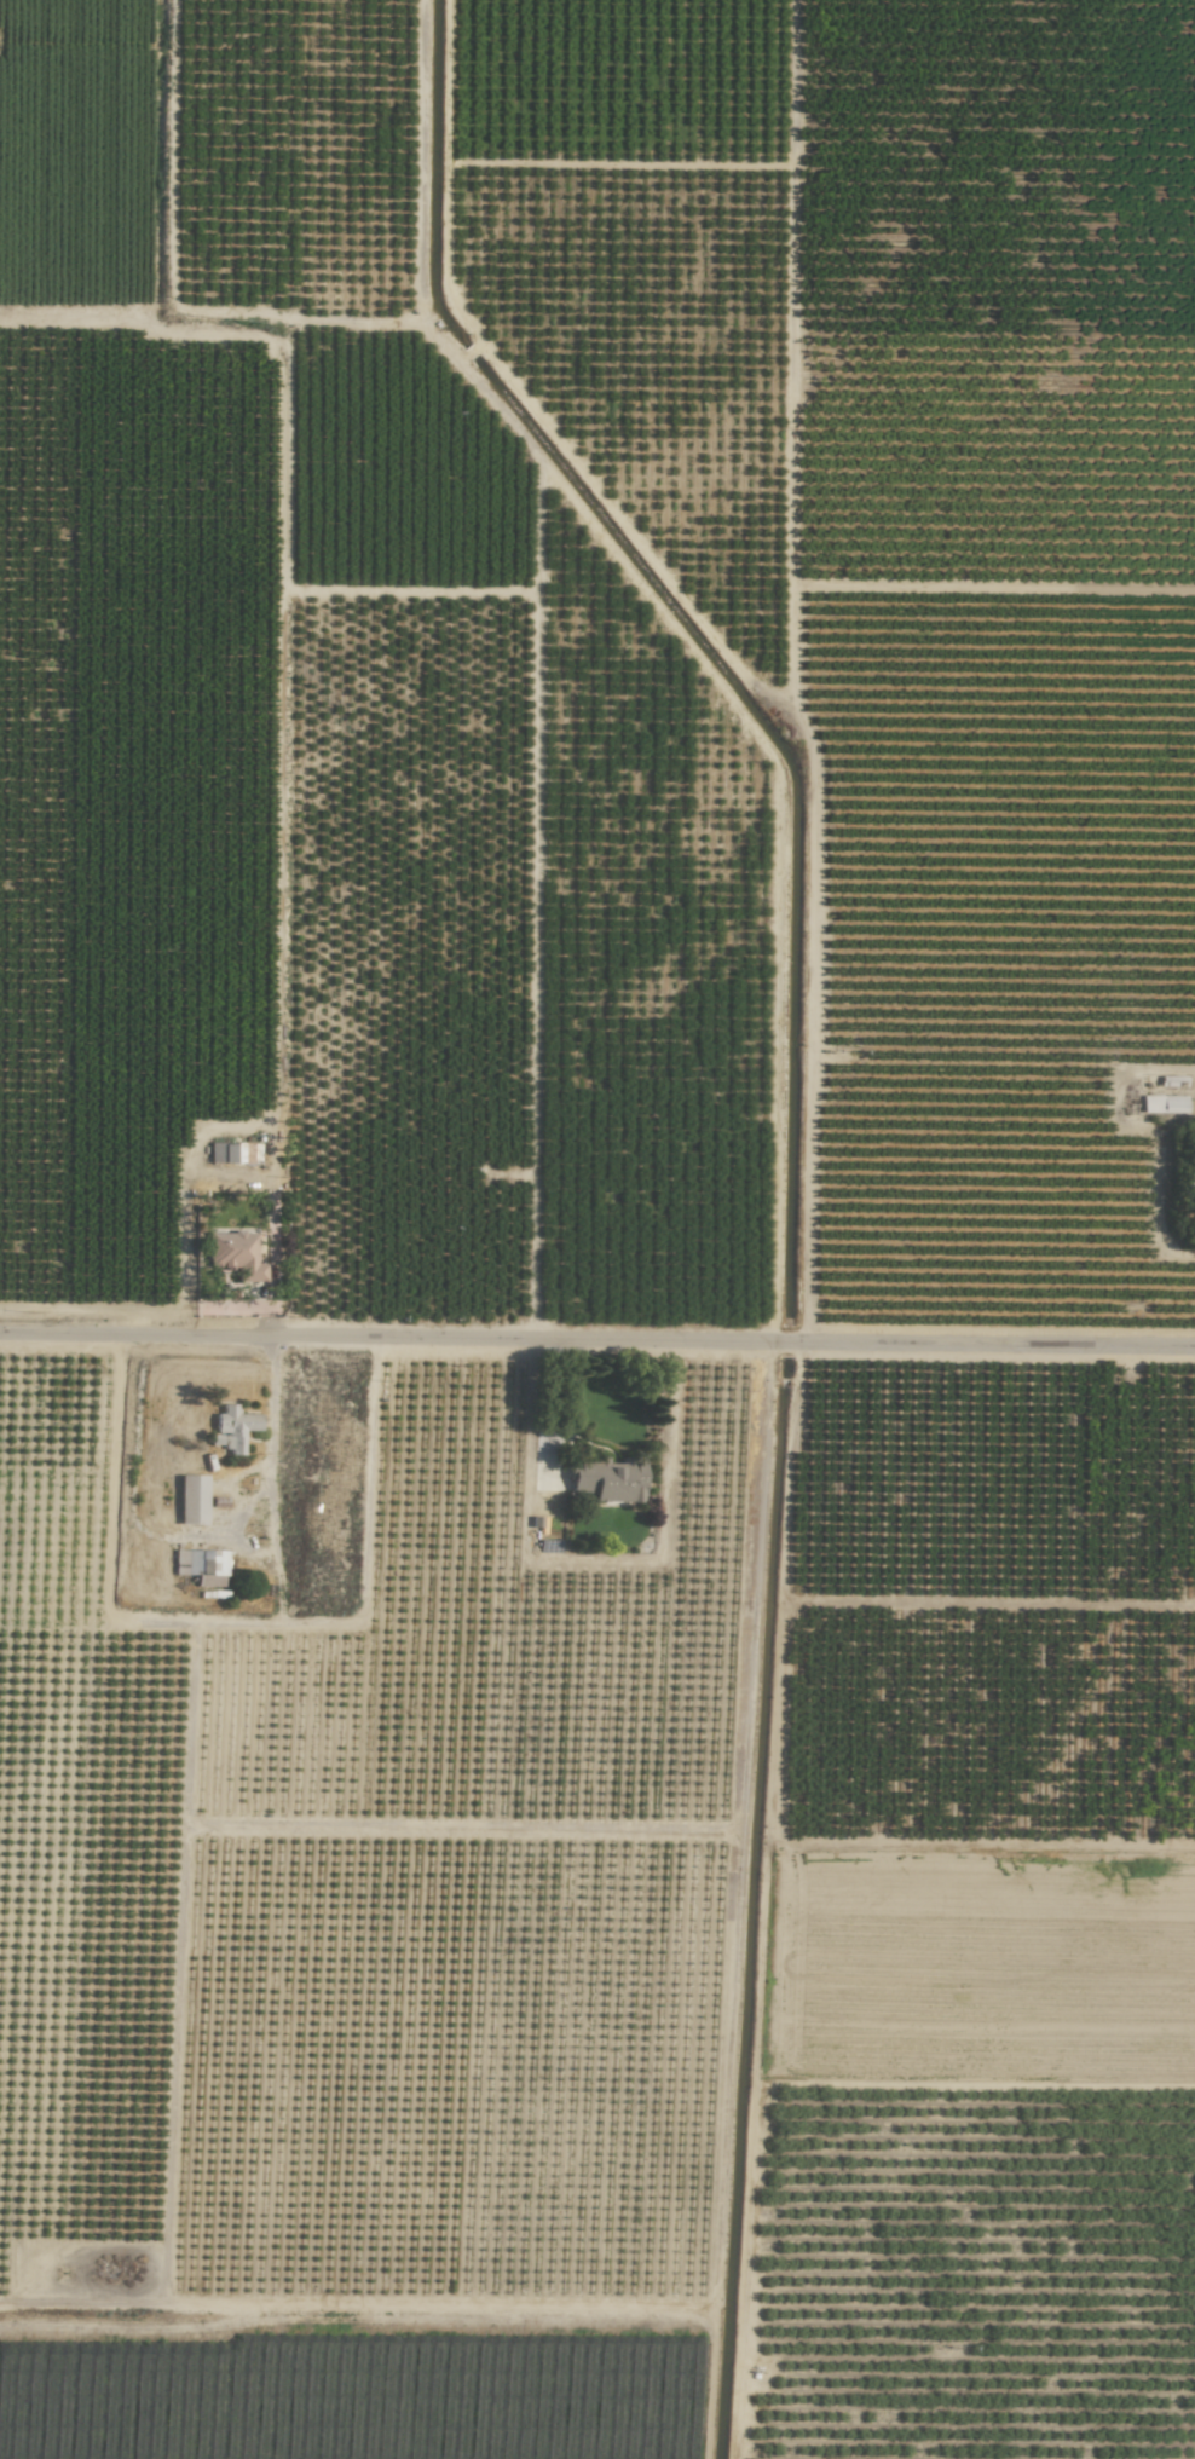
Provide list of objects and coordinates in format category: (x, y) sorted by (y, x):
road: (202, 325)
building: (1164, 1104)
building: (225, 1153)
building: (236, 1254)
road: (596, 1351)
road: (547, 1413)
building: (236, 1427)
road: (270, 1444)
building: (612, 1482)
building: (194, 1499)
building: (200, 1562)
road: (241, 1617)
road: (362, 1825)
road: (734, 1905)

